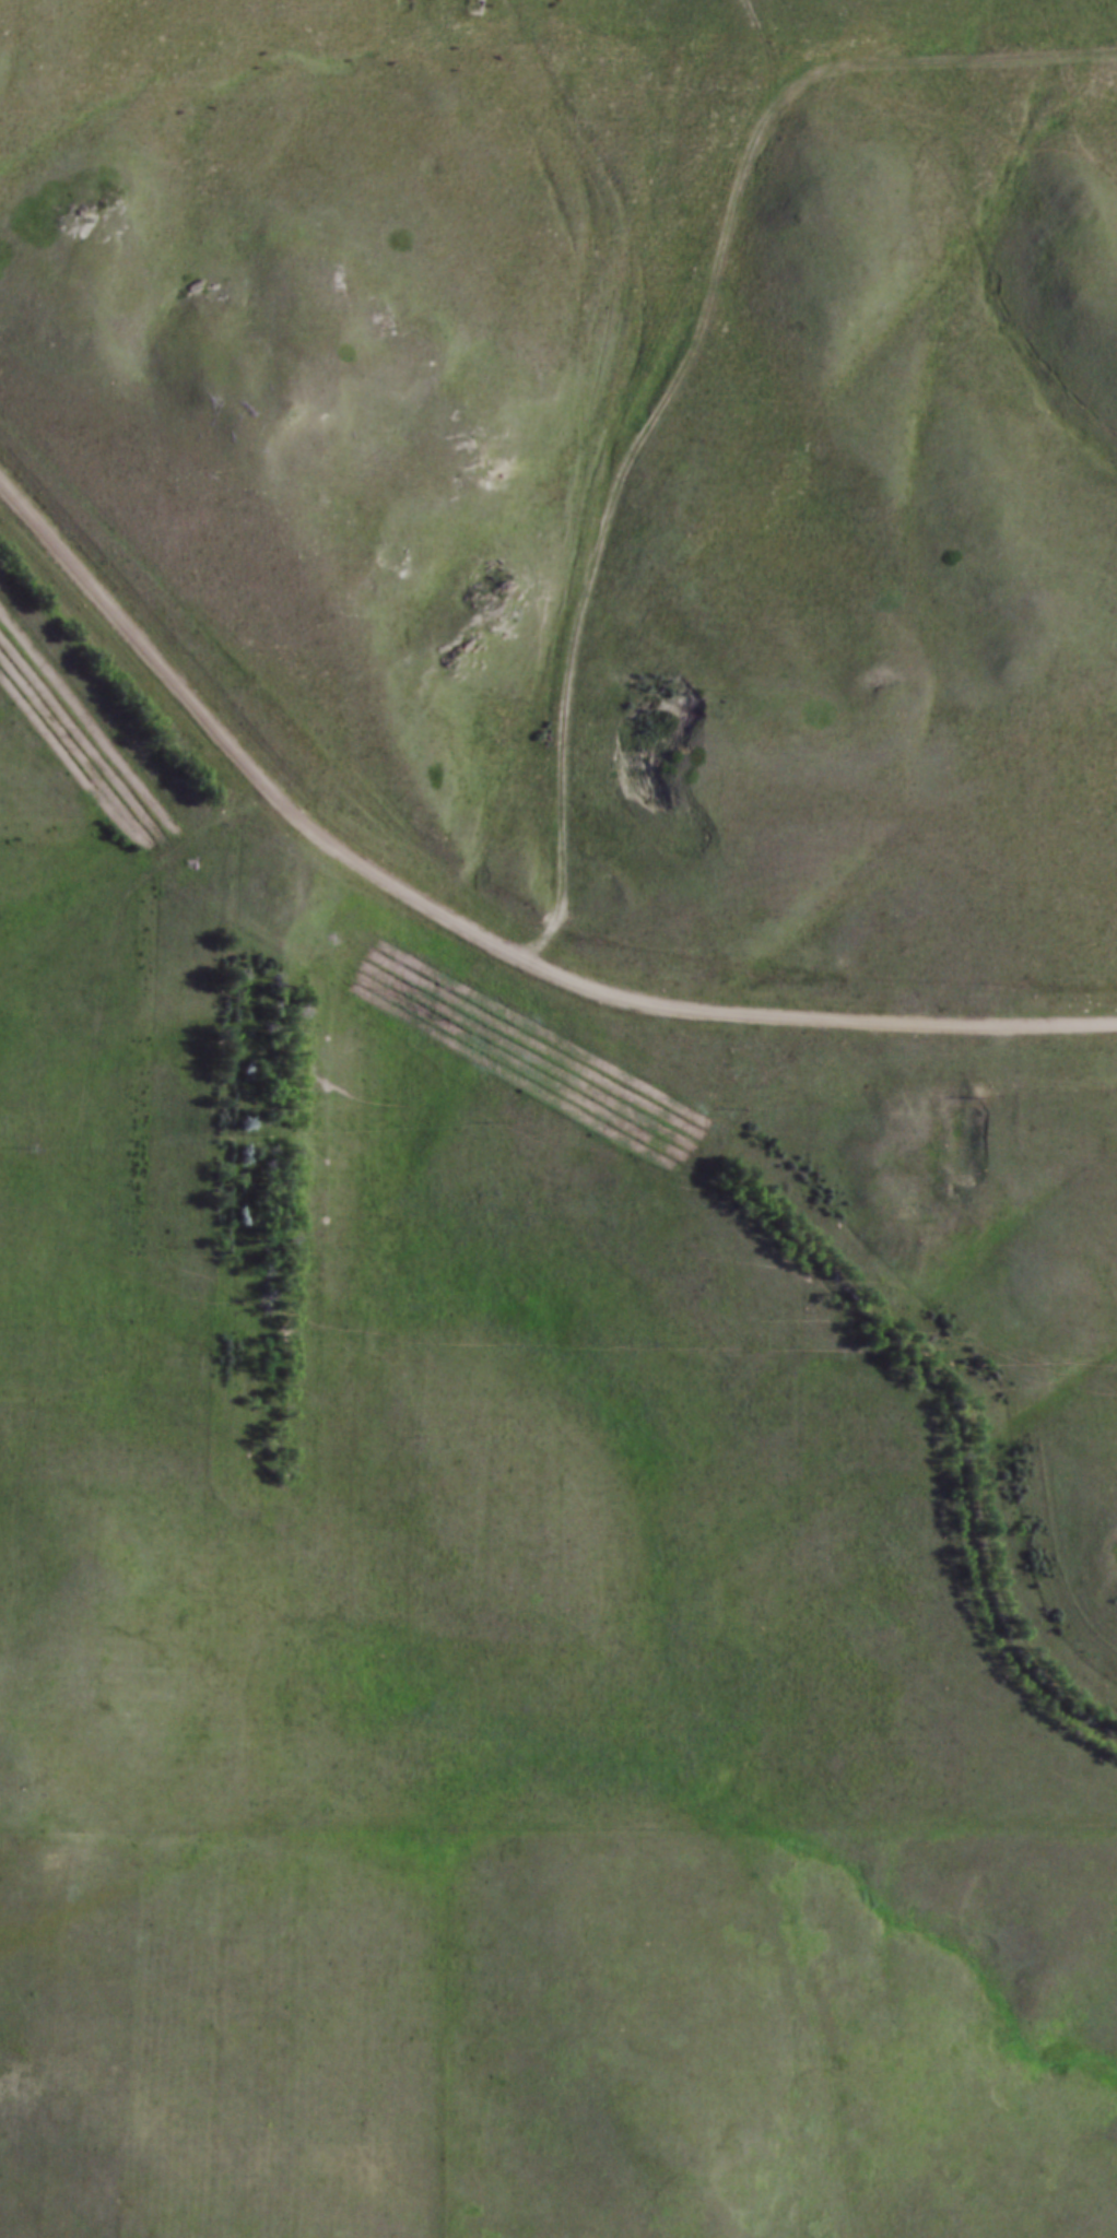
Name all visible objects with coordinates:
road: (474, 927)

